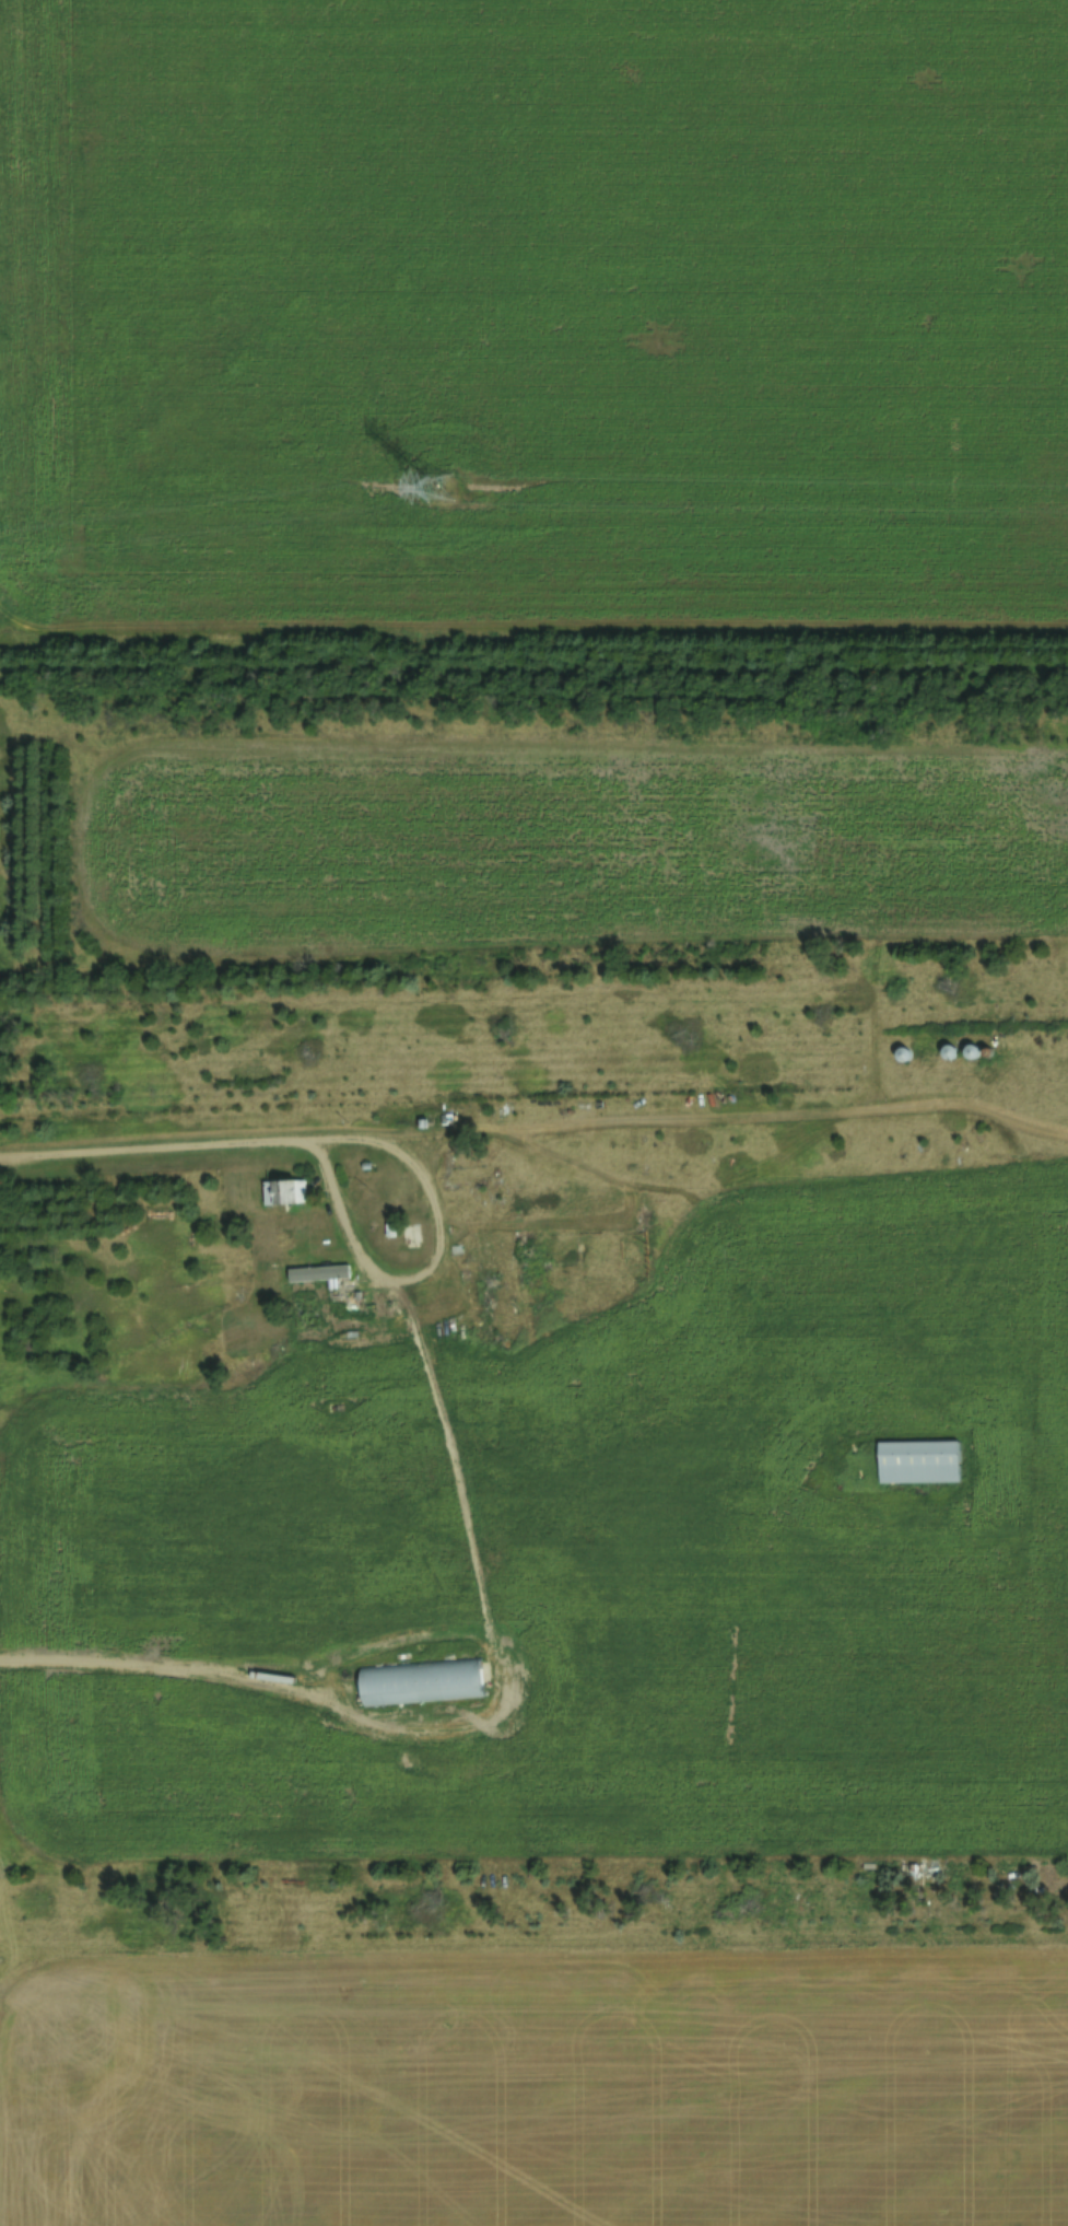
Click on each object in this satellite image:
power tower: (433, 490)
building: (947, 1052)
building: (901, 1054)
road: (160, 1150)
building: (281, 1192)
road: (427, 1194)
building: (316, 1275)
building: (915, 1462)
building: (418, 1682)
building: (915, 1869)

